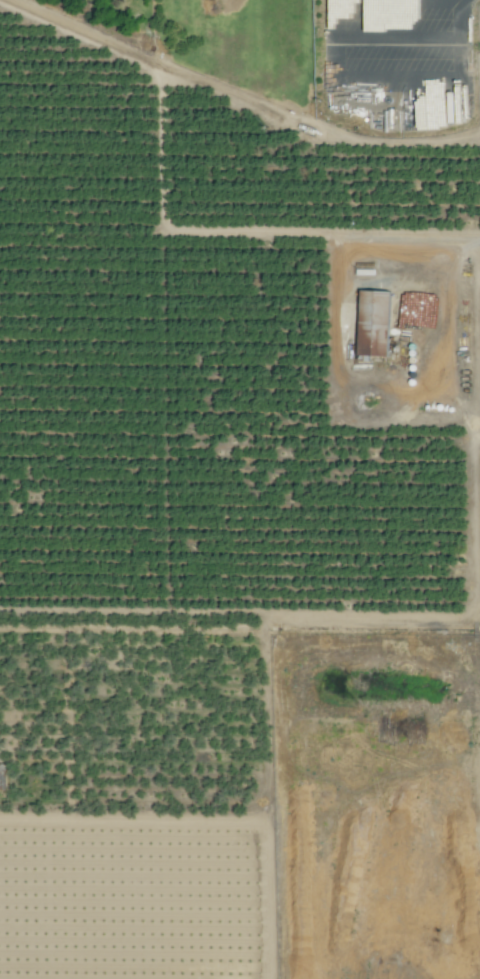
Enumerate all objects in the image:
road: (383, 32)
road: (443, 73)
building: (374, 325)
building: (1, 776)

